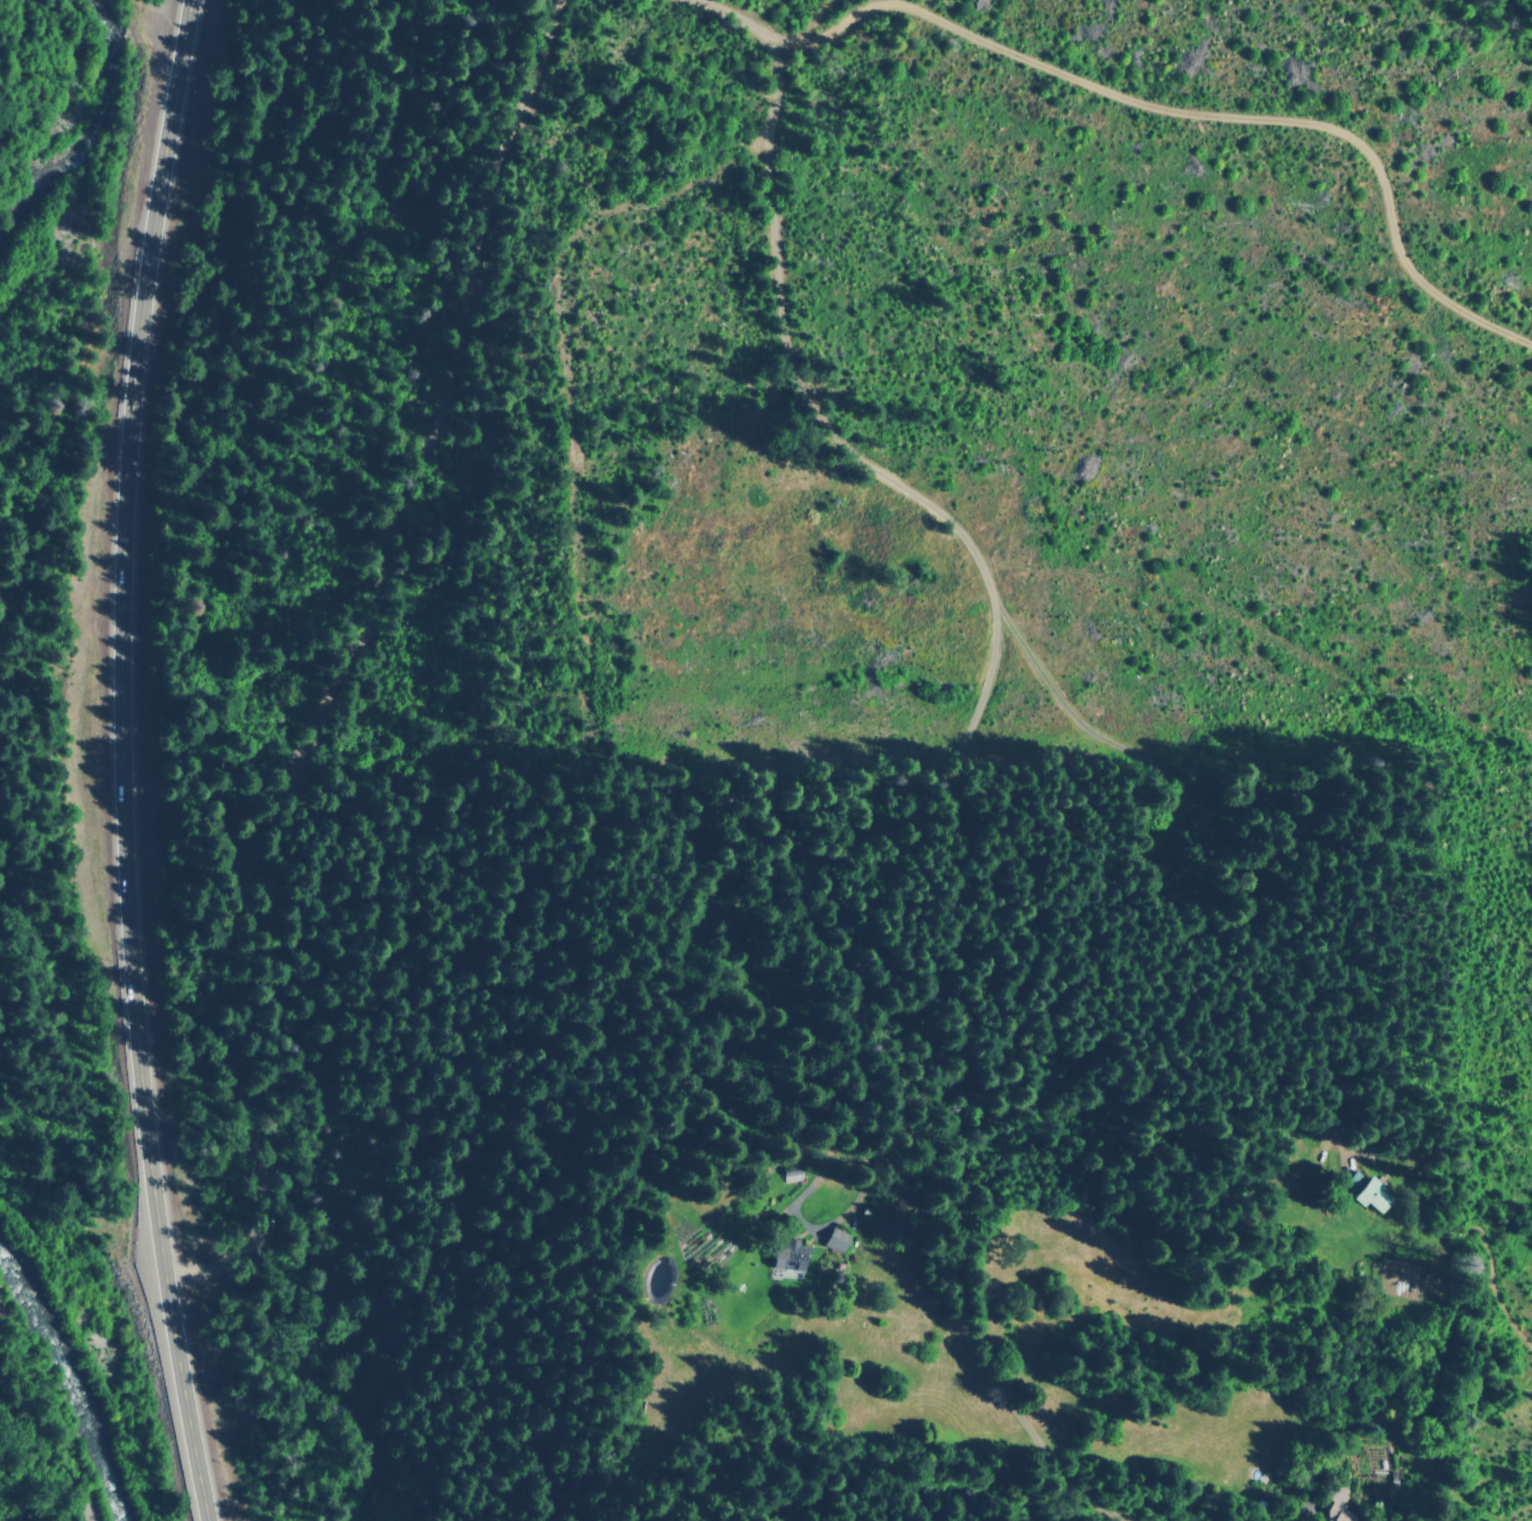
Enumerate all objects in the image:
river: (67, 126)
road: (118, 761)
building: (1376, 1195)
building: (840, 1240)
building: (794, 1258)
river: (66, 1361)

